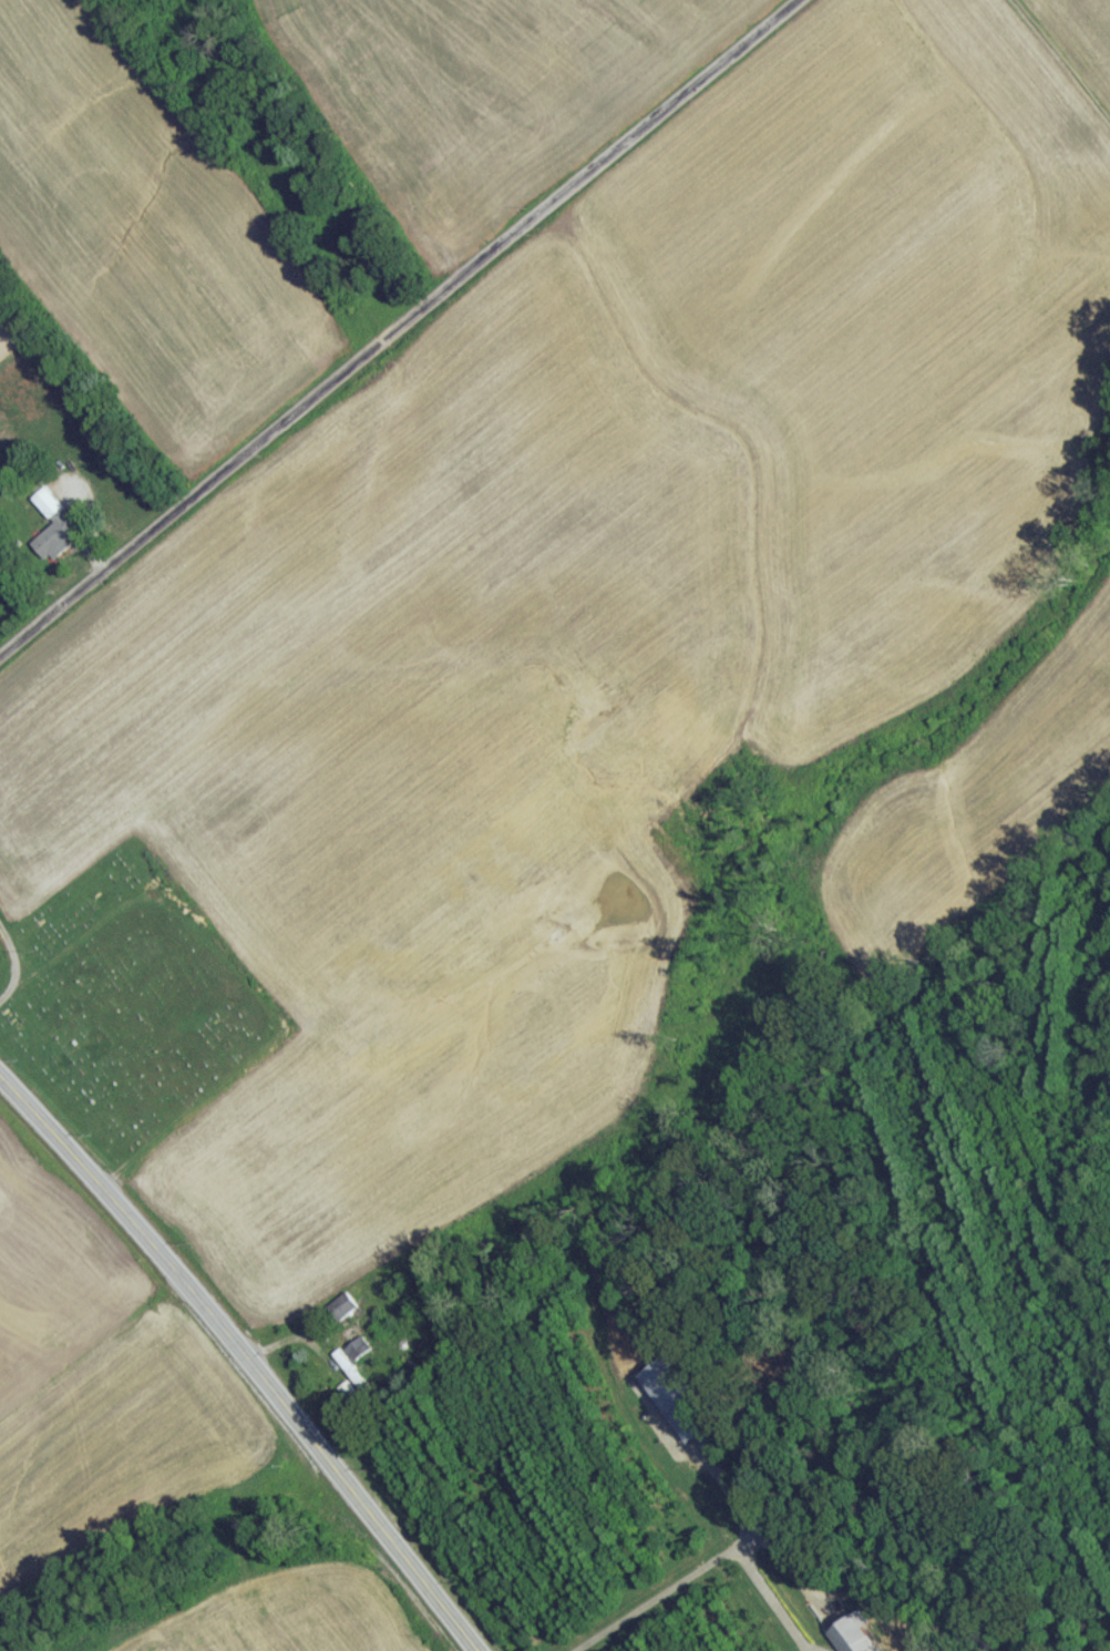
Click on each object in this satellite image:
road: (397, 327)
building: (54, 534)
road: (13, 965)
building: (342, 1313)
road: (240, 1362)
building: (353, 1381)
building: (676, 1414)
road: (717, 1481)
road: (702, 1567)
building: (856, 1649)

